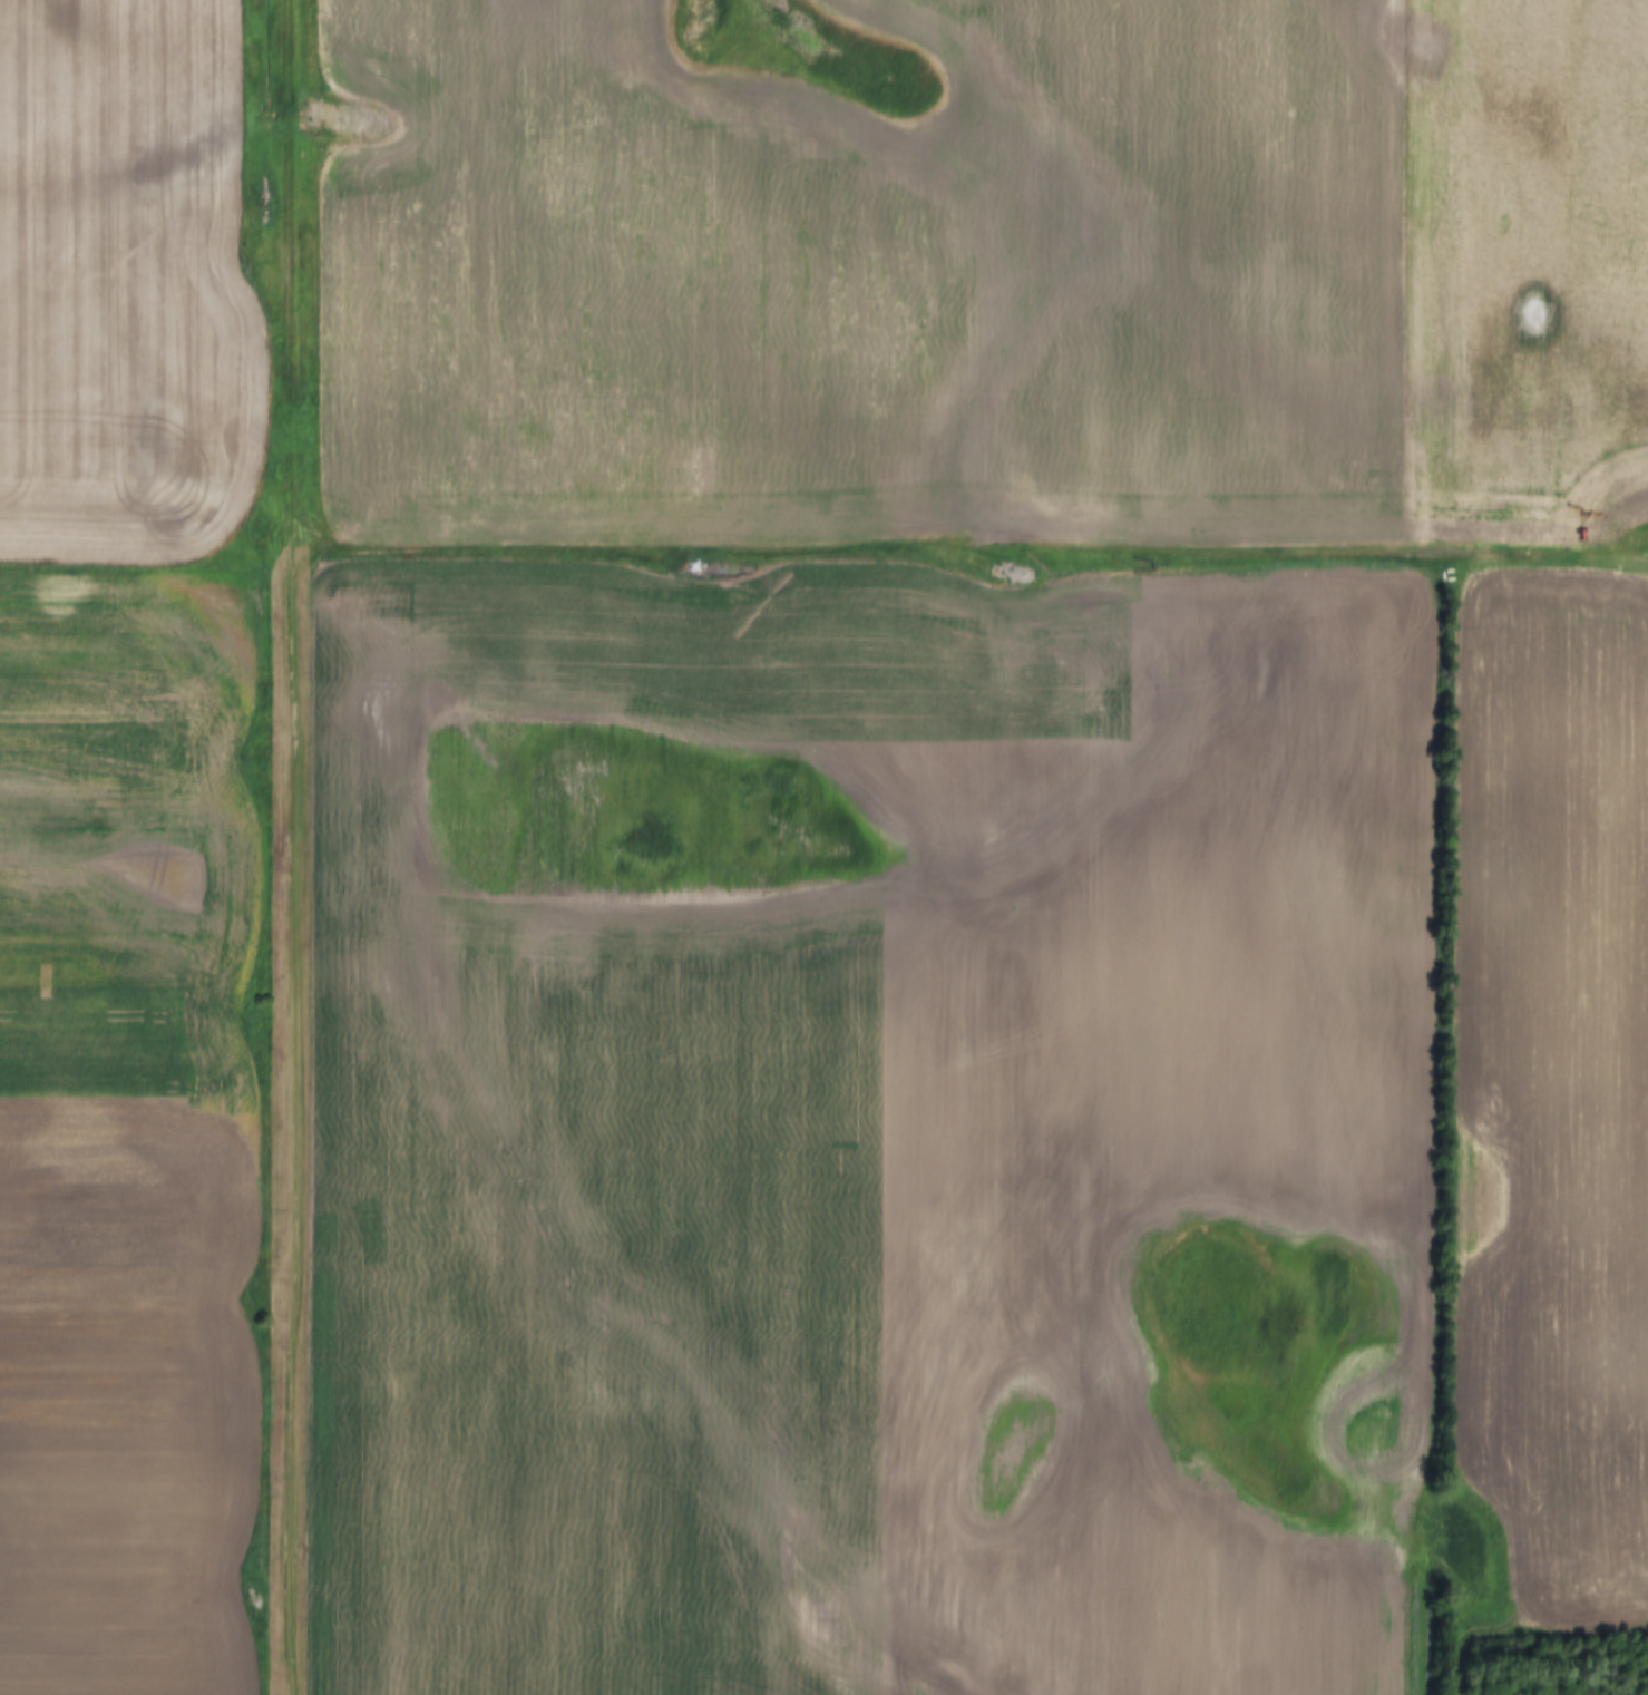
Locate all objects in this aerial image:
road: (299, 847)

